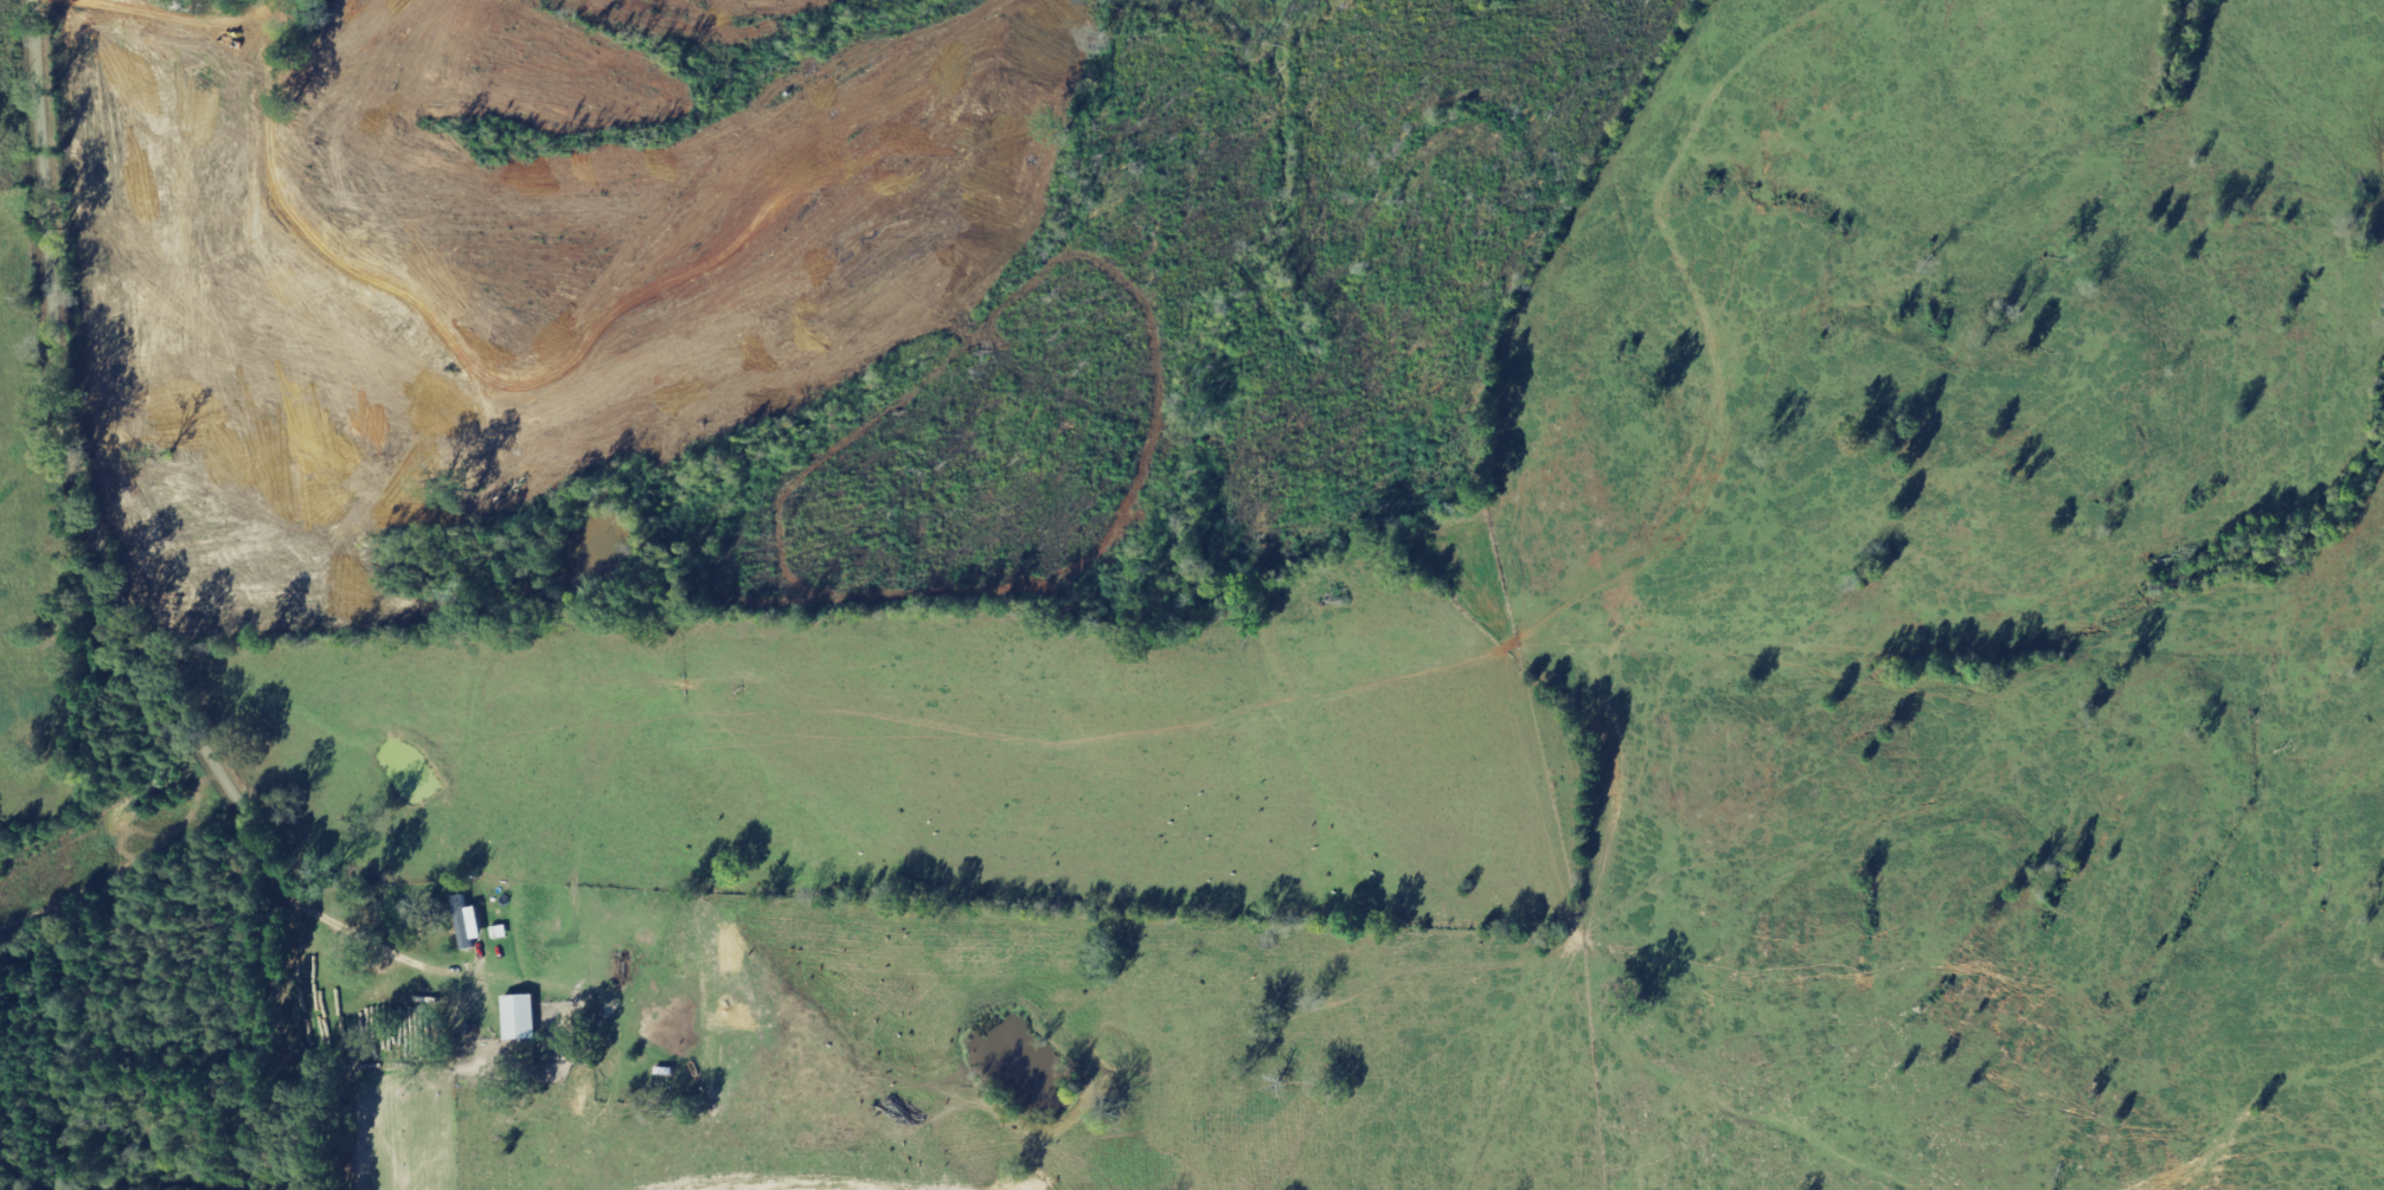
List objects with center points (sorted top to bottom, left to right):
road: (133, 611)
road: (82, 751)
building: (464, 922)
building: (518, 1018)

